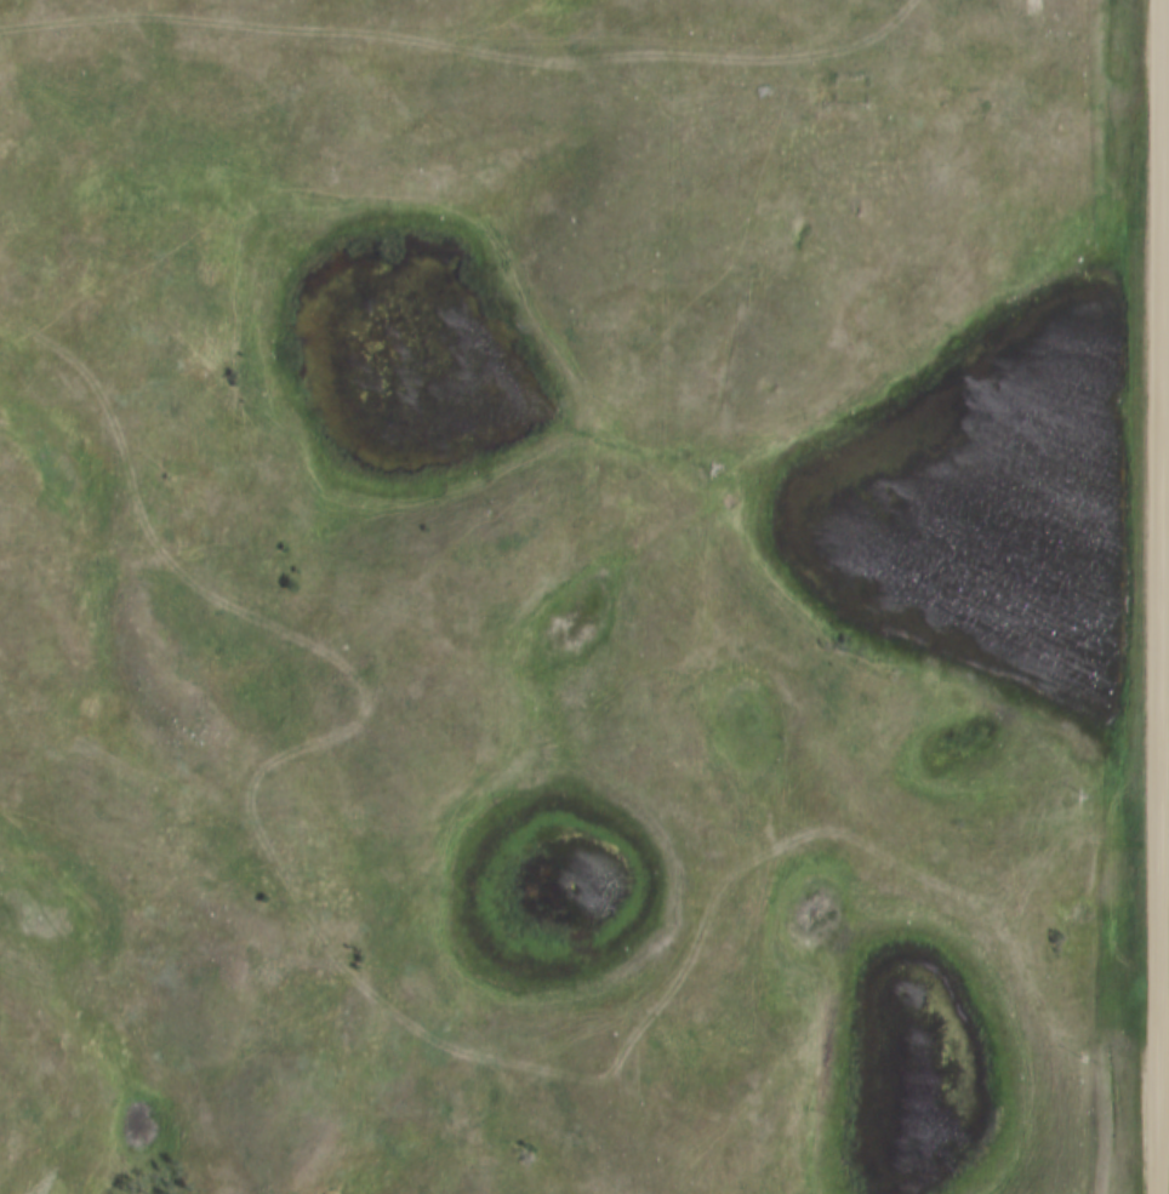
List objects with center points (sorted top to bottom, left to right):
road: (1154, 596)

